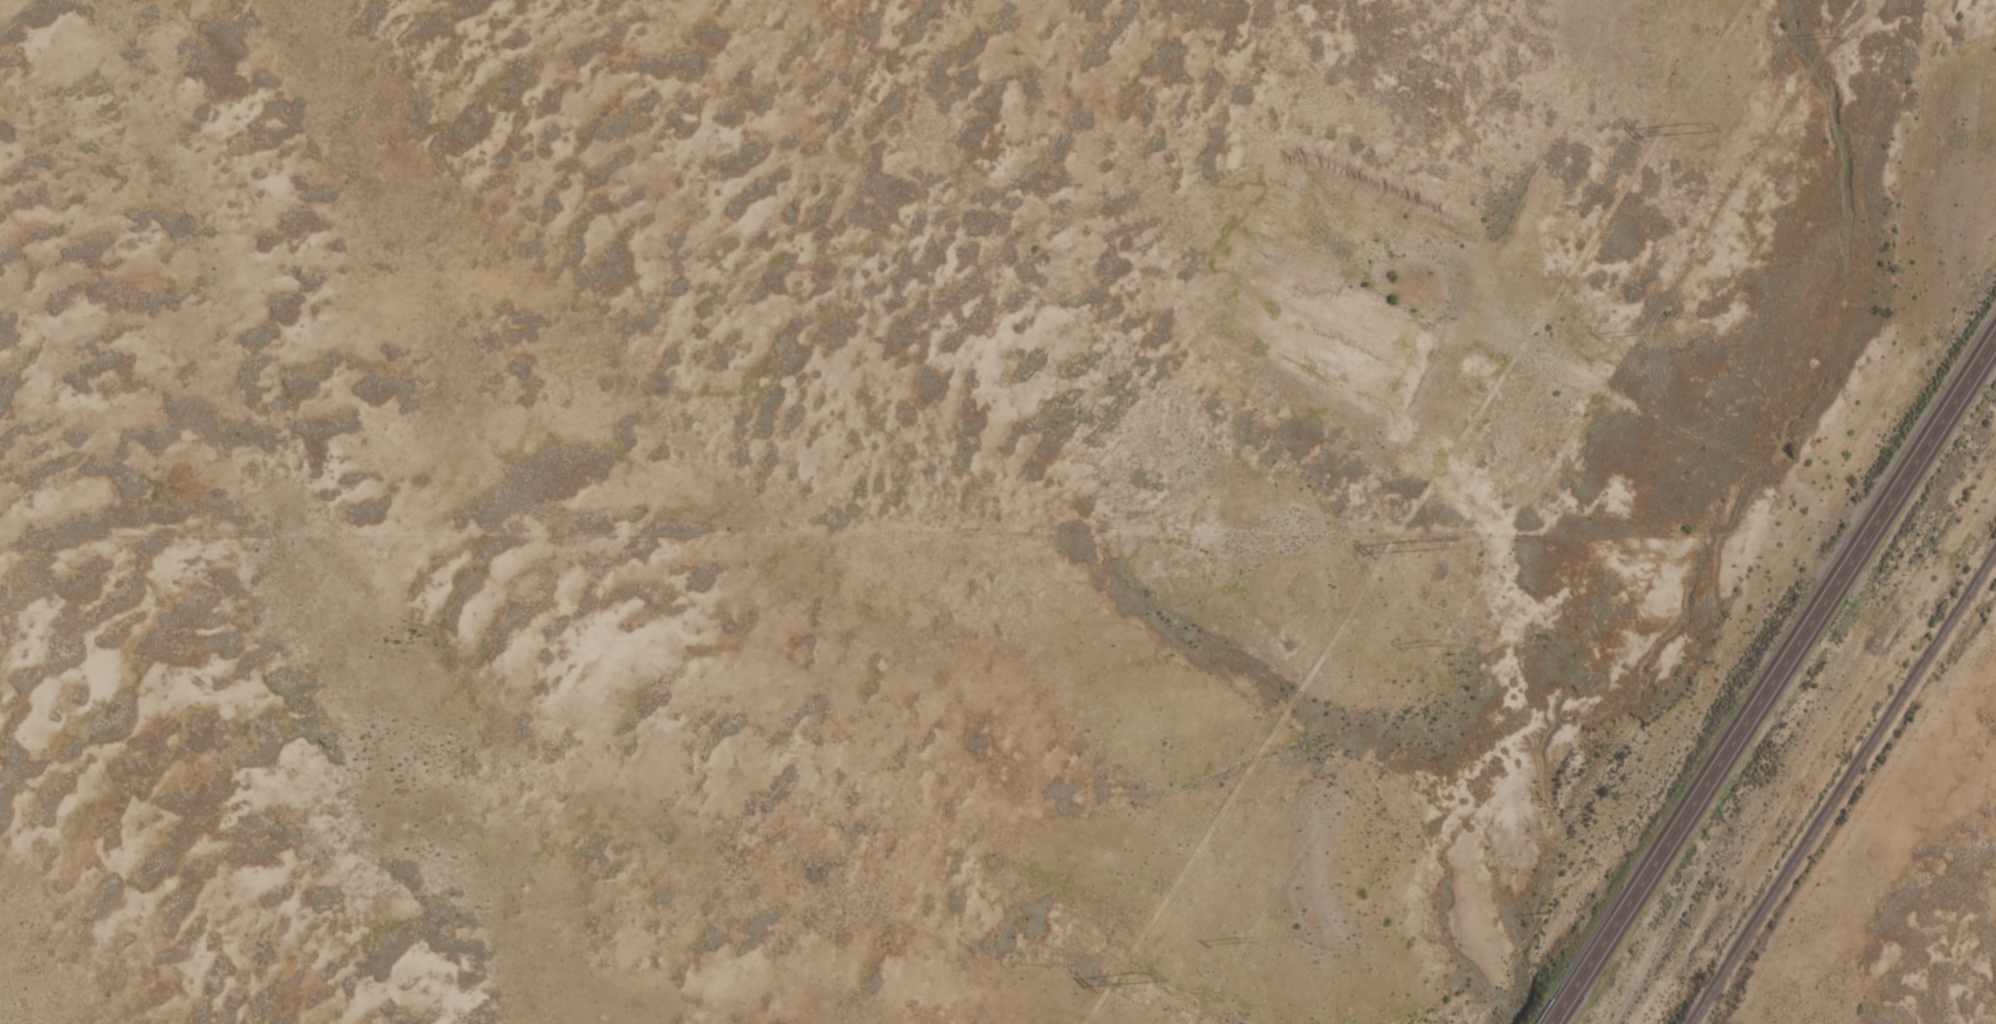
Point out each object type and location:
power tower: (1683, 119)
power tower: (1414, 540)
road: (1770, 677)
railway: (1840, 785)
power tower: (1135, 973)

